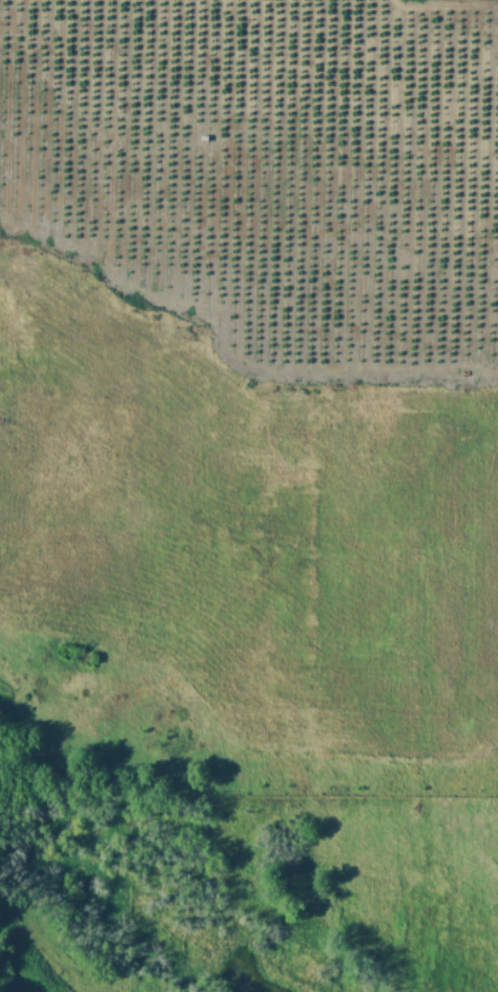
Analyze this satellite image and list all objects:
crop: (249, 496)

